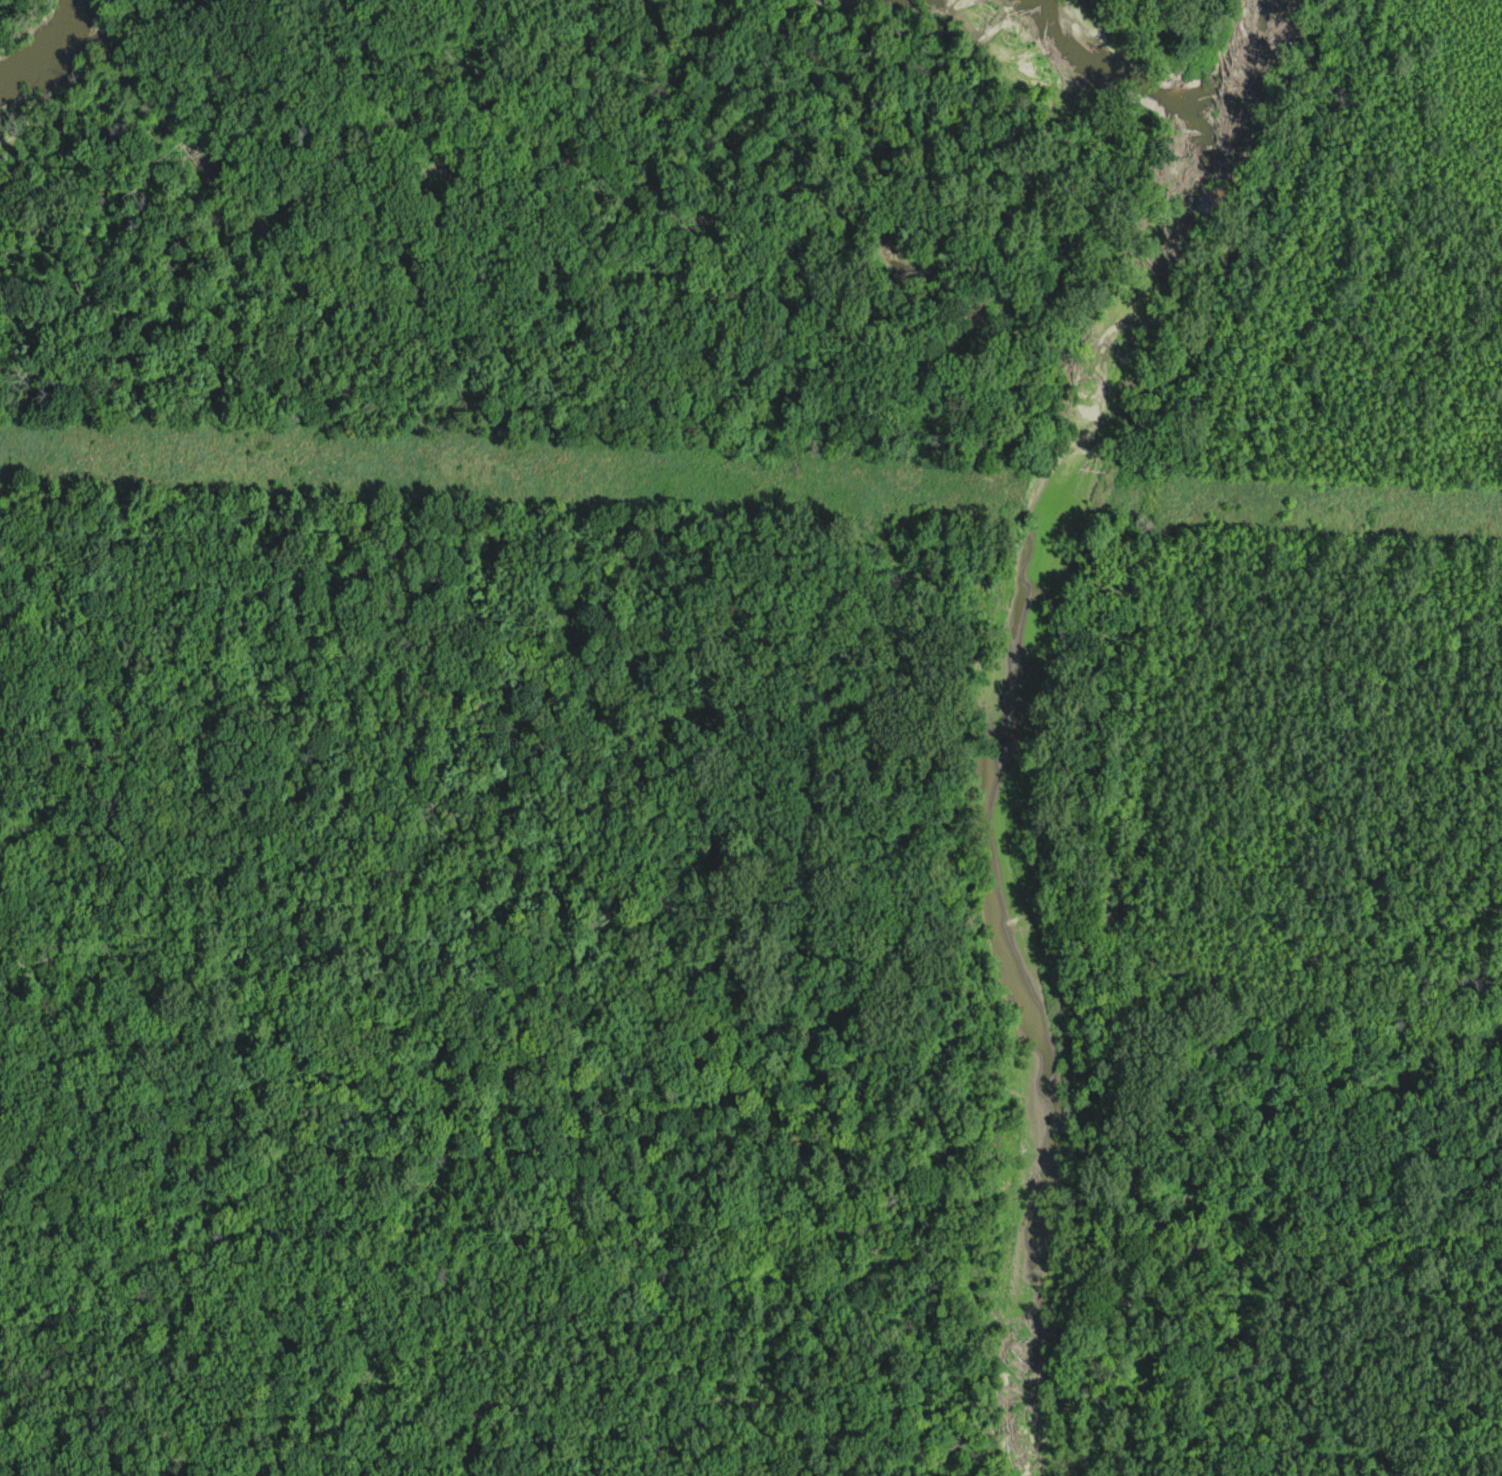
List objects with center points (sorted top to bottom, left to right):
river: (1024, 718)

